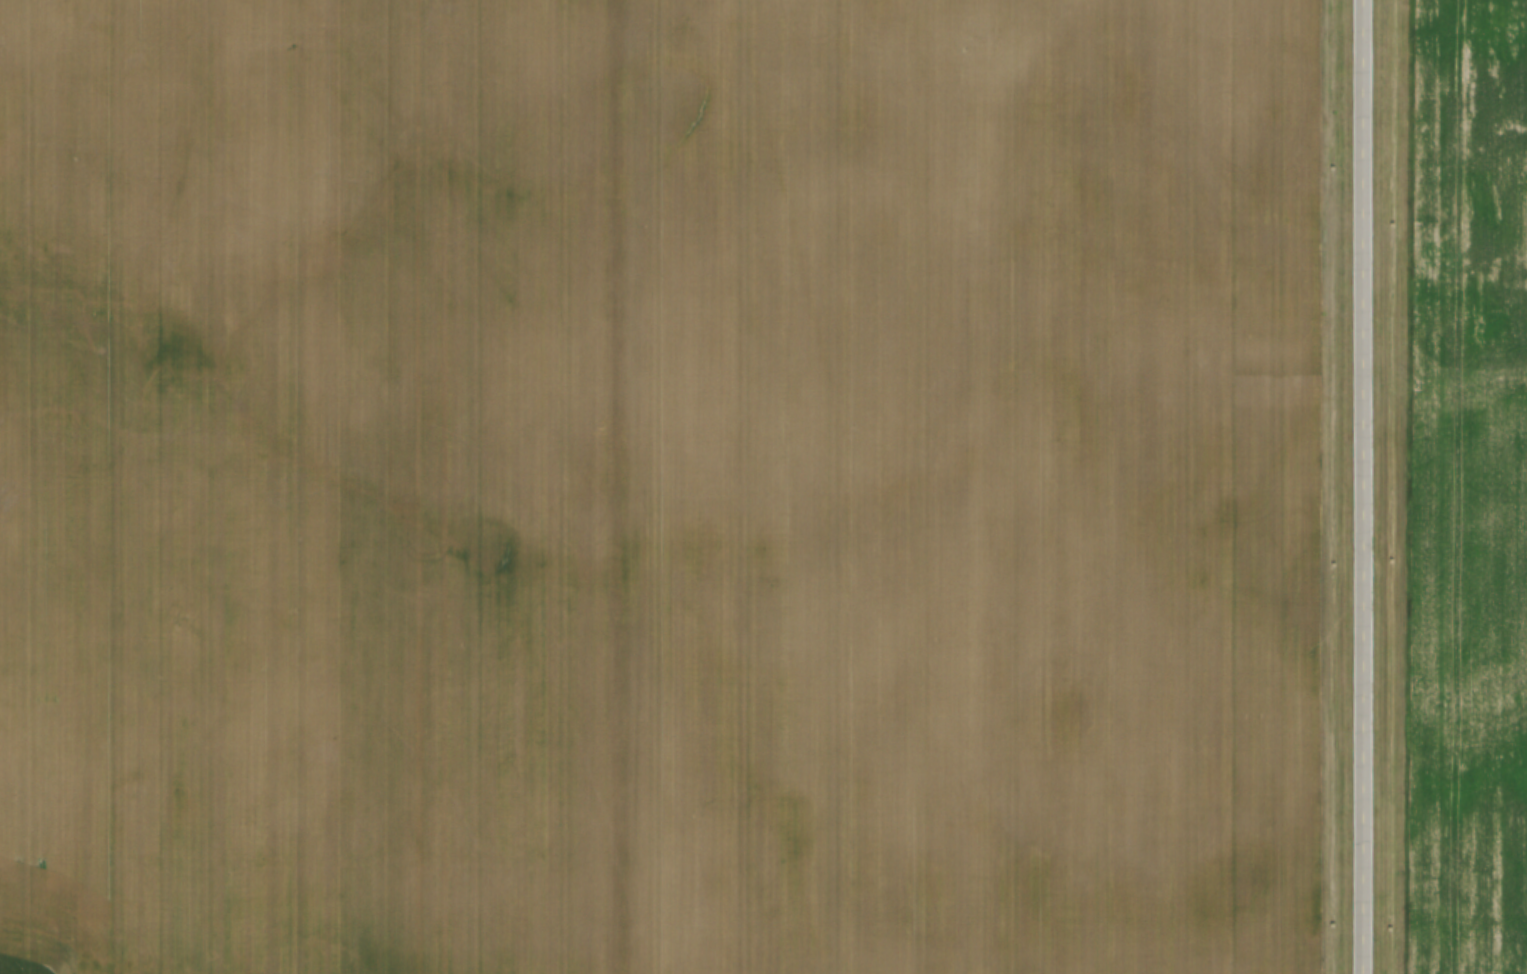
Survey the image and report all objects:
road: (1365, 487)

